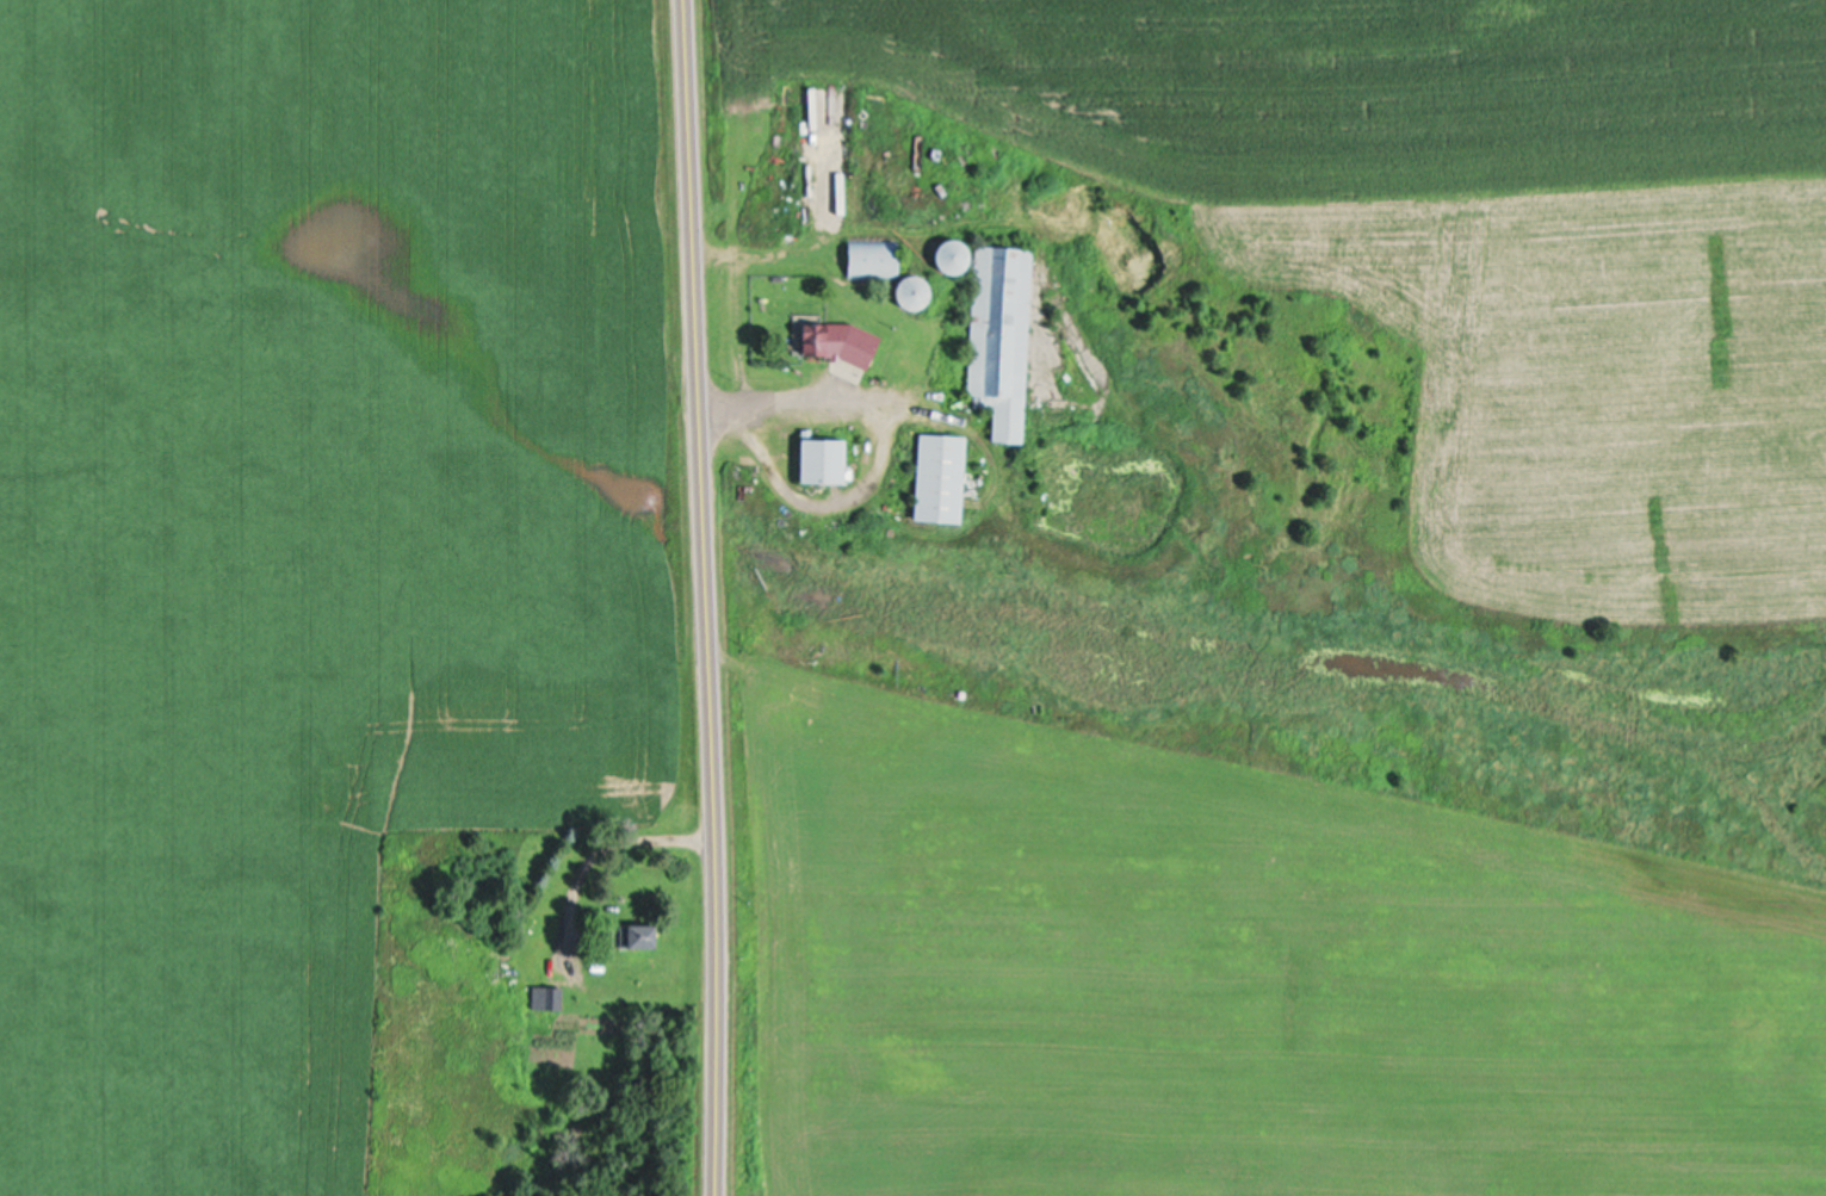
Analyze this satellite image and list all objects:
crop: (347, 138)
building: (869, 258)
building: (998, 342)
building: (834, 346)
building: (817, 460)
building: (935, 479)
road: (700, 597)
crop: (305, 671)
building: (635, 937)
building: (545, 999)

